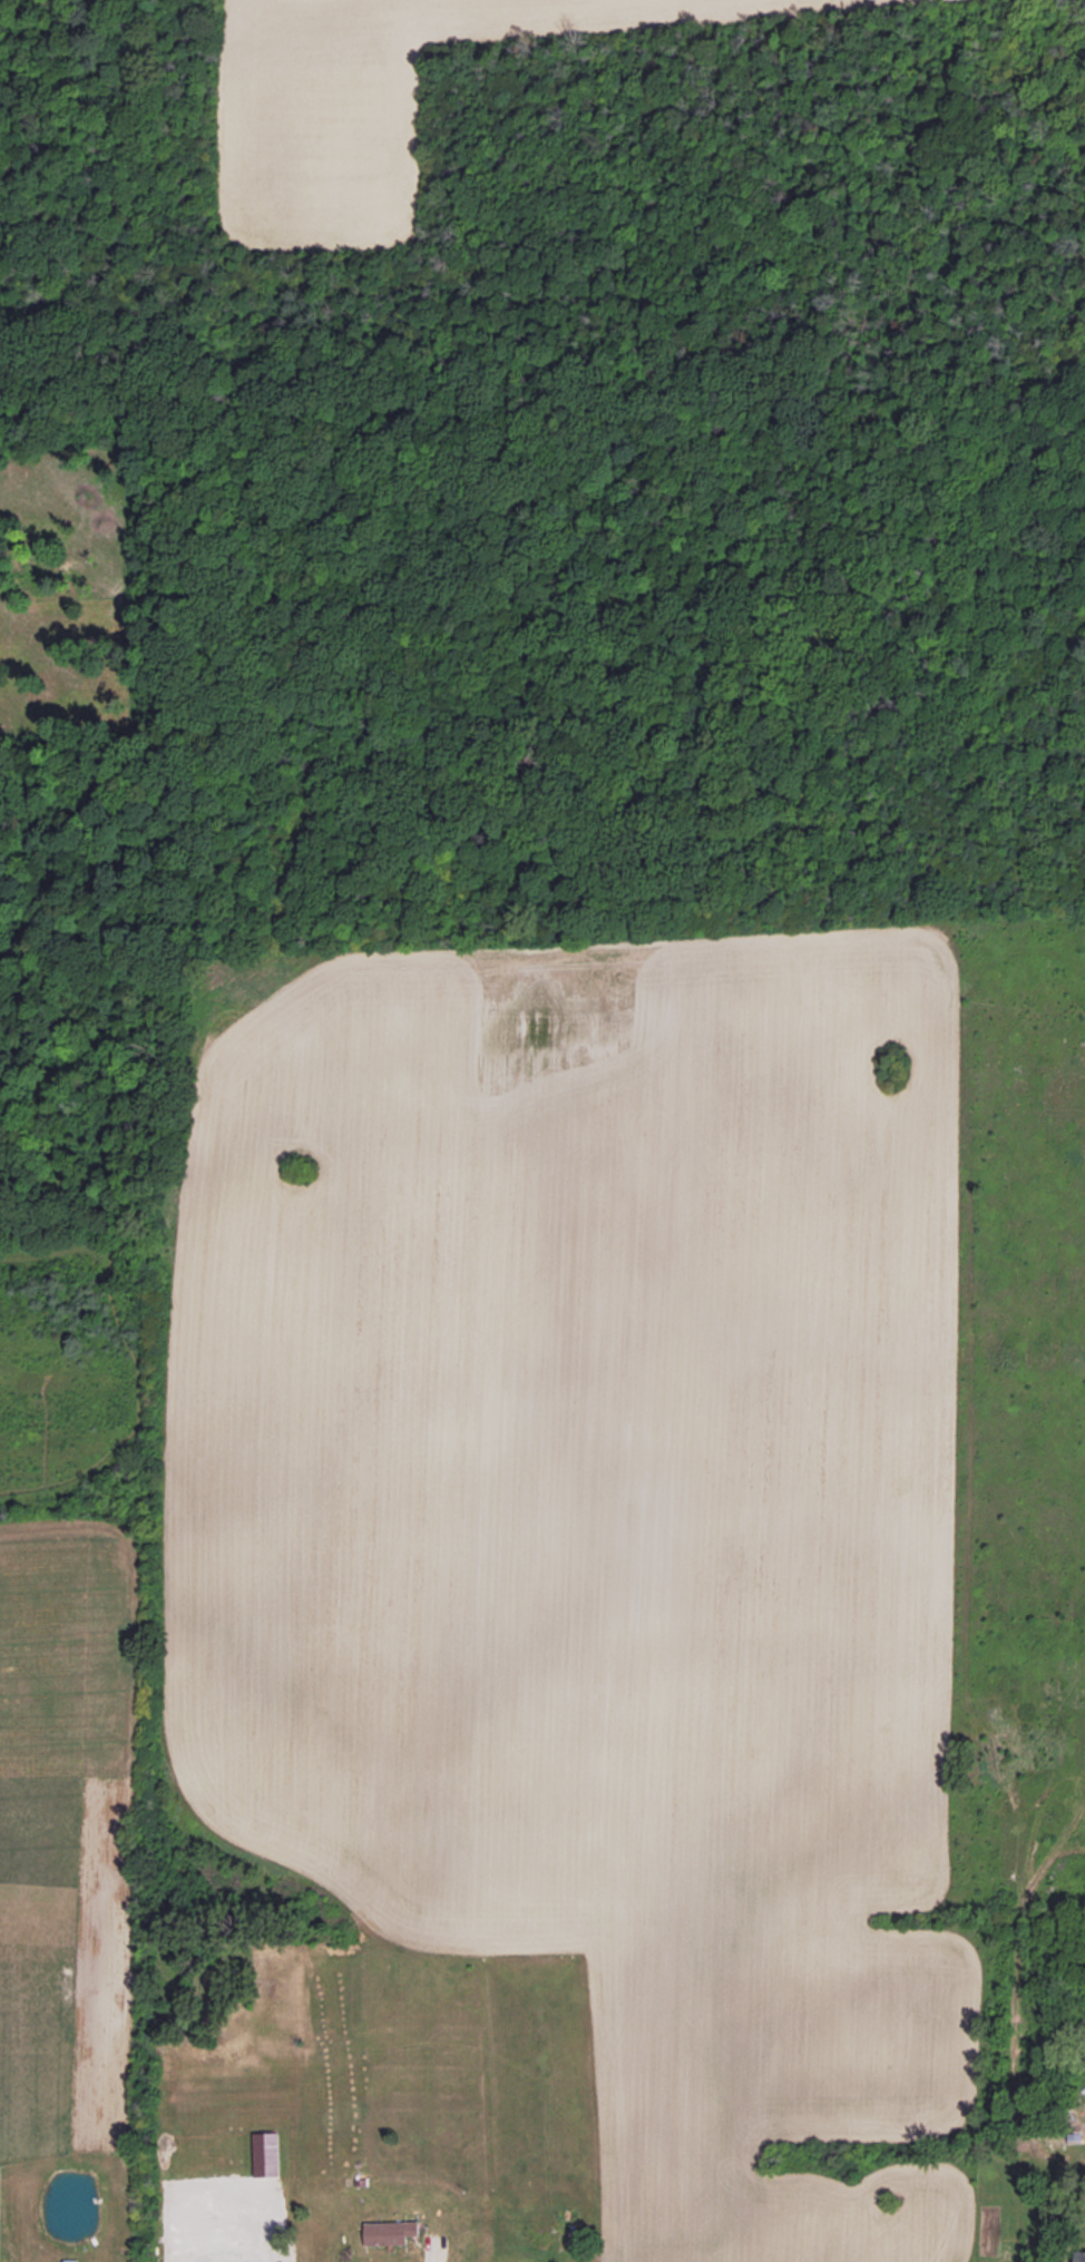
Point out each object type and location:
building: (266, 2154)
building: (390, 2232)
road: (430, 2249)
road: (245, 2250)
building: (1082, 2255)

